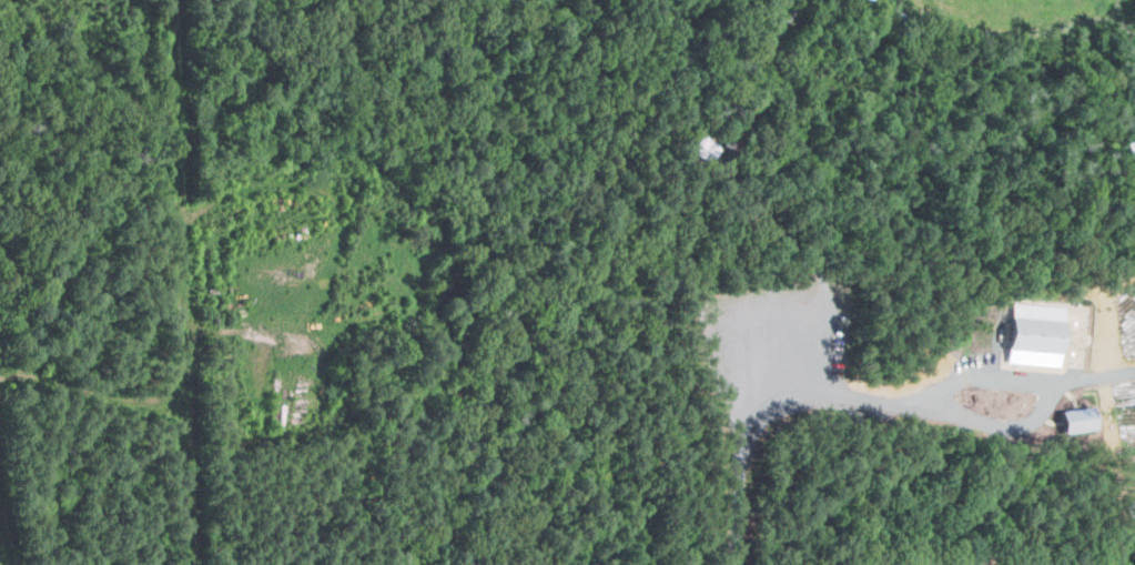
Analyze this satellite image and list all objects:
building: (1129, 144)
building: (702, 148)
building: (1030, 331)
building: (1074, 418)
road: (721, 463)
building: (1129, 507)

